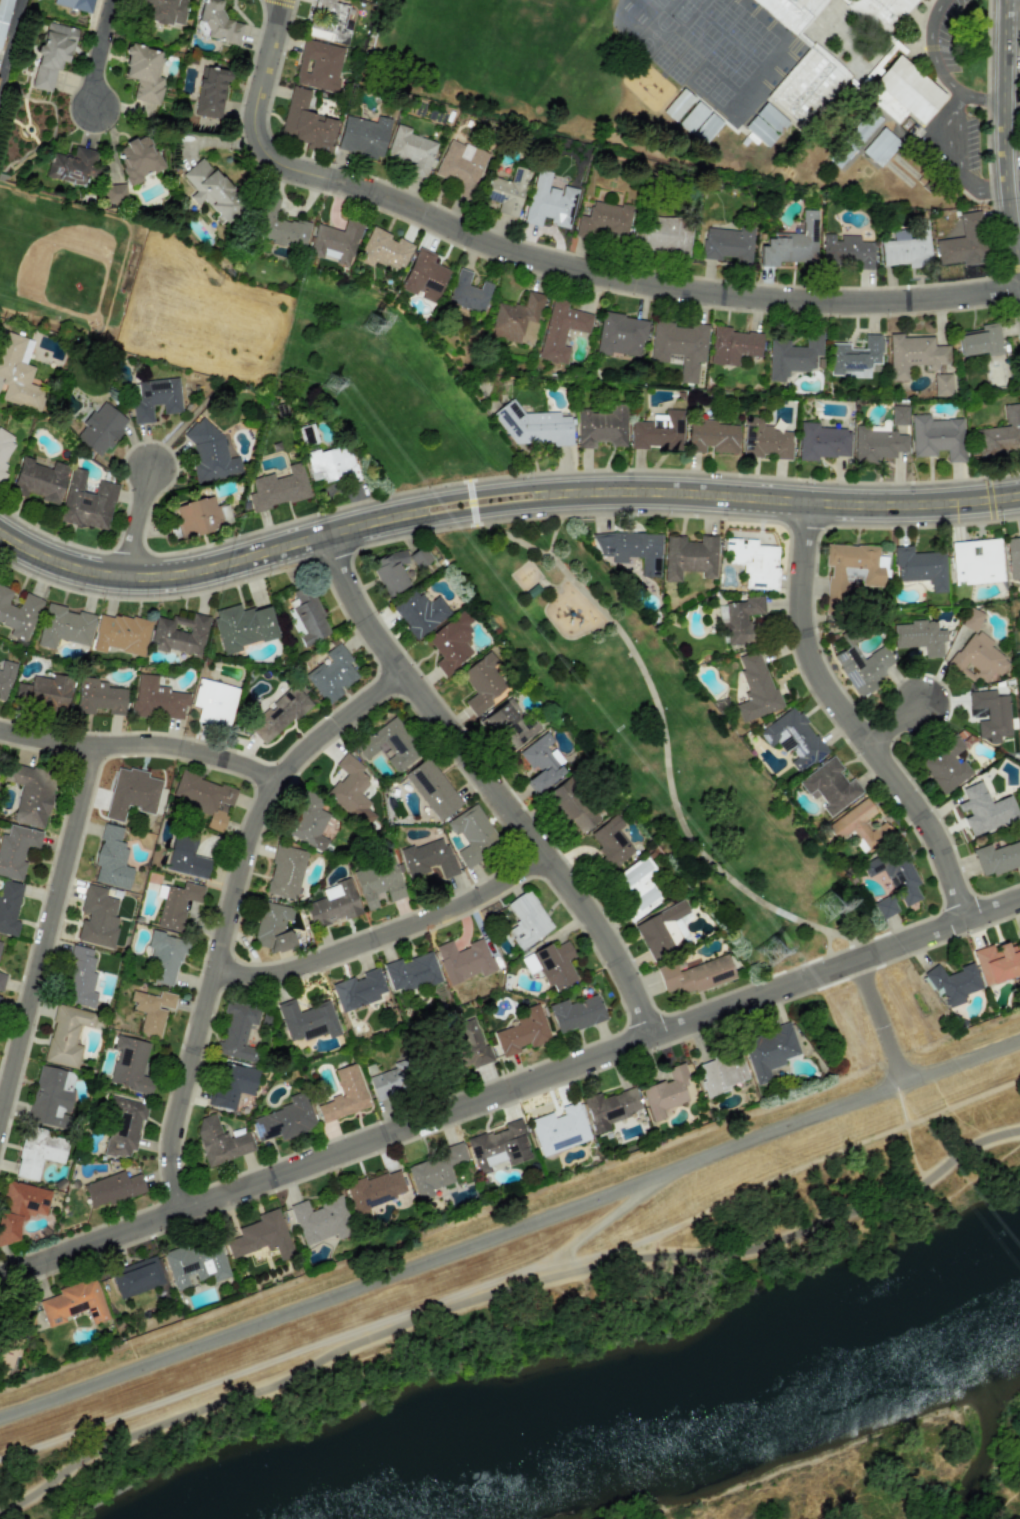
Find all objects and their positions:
building: (75, 4)
building: (163, 11)
building: (791, 12)
building: (881, 12)
building: (4, 17)
building: (329, 22)
building: (216, 23)
road: (10, 40)
road: (932, 50)
building: (52, 54)
park: (494, 54)
road: (98, 56)
building: (318, 65)
building: (144, 73)
building: (807, 85)
building: (210, 92)
building: (903, 92)
building: (677, 104)
road: (1012, 104)
building: (306, 122)
building: (699, 123)
building: (765, 124)
building: (363, 136)
road: (952, 138)
building: (880, 147)
building: (411, 150)
building: (842, 152)
building: (138, 159)
building: (72, 166)
building: (460, 166)
building: (211, 189)
building: (507, 191)
building: (114, 193)
building: (549, 202)
building: (605, 221)
building: (277, 225)
building: (665, 235)
building: (335, 242)
building: (963, 242)
building: (727, 243)
building: (791, 243)
building: (906, 246)
building: (384, 249)
building: (847, 250)
road: (551, 264)
building: (424, 276)
building: (468, 293)
power tower: (375, 317)
building: (517, 320)
building: (561, 330)
building: (620, 334)
building: (980, 341)
building: (732, 345)
building: (679, 347)
building: (914, 355)
building: (792, 356)
building: (855, 357)
building: (18, 373)
power tower: (337, 384)
building: (941, 384)
park: (384, 389)
building: (155, 399)
building: (898, 415)
building: (532, 425)
building: (602, 427)
building: (100, 428)
building: (658, 431)
building: (1001, 433)
building: (711, 437)
building: (937, 437)
building: (765, 440)
building: (821, 442)
building: (876, 444)
building: (4, 449)
building: (209, 453)
building: (332, 464)
building: (39, 480)
building: (278, 488)
building: (87, 502)
road: (473, 502)
road: (501, 503)
building: (200, 516)
road: (145, 527)
road: (553, 536)
building: (630, 549)
building: (1013, 556)
building: (417, 557)
building: (689, 557)
building: (753, 562)
building: (976, 562)
building: (921, 567)
building: (852, 568)
building: (390, 571)
building: (18, 613)
building: (420, 613)
building: (308, 615)
building: (972, 619)
building: (740, 620)
building: (294, 622)
building: (64, 626)
building: (242, 626)
building: (120, 634)
building: (180, 634)
building: (919, 636)
building: (451, 642)
building: (978, 658)
building: (862, 667)
building: (331, 674)
building: (5, 677)
building: (483, 682)
building: (755, 688)
building: (44, 692)
building: (98, 697)
building: (157, 699)
building: (214, 703)
building: (991, 714)
building: (279, 715)
road: (860, 723)
building: (509, 726)
road: (905, 726)
road: (663, 733)
building: (792, 738)
building: (389, 744)
park: (662, 745)
road: (142, 748)
building: (0, 759)
building: (541, 763)
building: (945, 765)
building: (829, 786)
road: (495, 787)
building: (432, 789)
building: (351, 790)
building: (131, 793)
building: (31, 794)
building: (204, 798)
building: (573, 805)
building: (984, 810)
building: (308, 822)
building: (859, 826)
building: (473, 835)
building: (610, 842)
building: (16, 850)
building: (186, 855)
building: (998, 857)
building: (428, 858)
building: (111, 859)
building: (285, 872)
building: (894, 879)
building: (378, 882)
building: (639, 887)
power tower: (828, 902)
building: (177, 904)
building: (332, 904)
building: (9, 907)
building: (97, 918)
building: (526, 920)
road: (226, 921)
road: (46, 927)
building: (272, 927)
building: (662, 929)
road: (834, 934)
building: (1019, 938)
road: (390, 940)
power tower: (768, 948)
building: (164, 957)
building: (463, 960)
building: (997, 962)
building: (555, 965)
building: (411, 972)
building: (693, 975)
building: (79, 978)
building: (2, 981)
building: (953, 983)
building: (358, 990)
building: (152, 1010)
building: (575, 1013)
building: (306, 1020)
road: (880, 1023)
building: (238, 1032)
building: (523, 1032)
building: (67, 1035)
building: (469, 1046)
building: (769, 1051)
building: (130, 1065)
building: (721, 1073)
building: (386, 1082)
building: (232, 1084)
building: (666, 1092)
building: (344, 1095)
building: (51, 1096)
road: (510, 1097)
building: (610, 1108)
building: (284, 1119)
building: (123, 1127)
building: (560, 1129)
building: (220, 1141)
building: (500, 1146)
building: (39, 1152)
building: (434, 1171)
building: (112, 1189)
building: (375, 1190)
building: (19, 1208)
building: (321, 1220)
road: (511, 1231)
building: (262, 1236)
building: (196, 1263)
building: (137, 1277)
road: (505, 1299)
building: (74, 1303)
building: (9, 1353)
river: (696, 1411)

